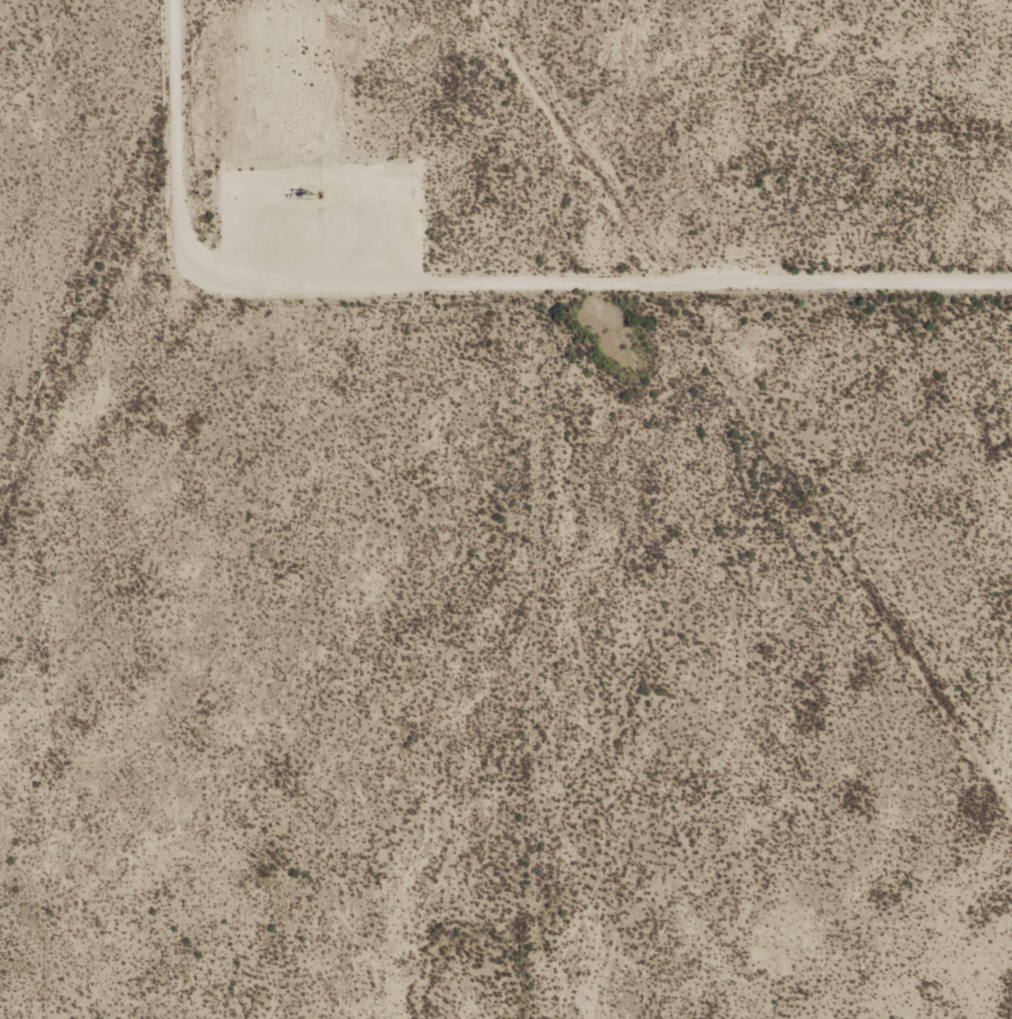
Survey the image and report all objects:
road: (105, 268)

